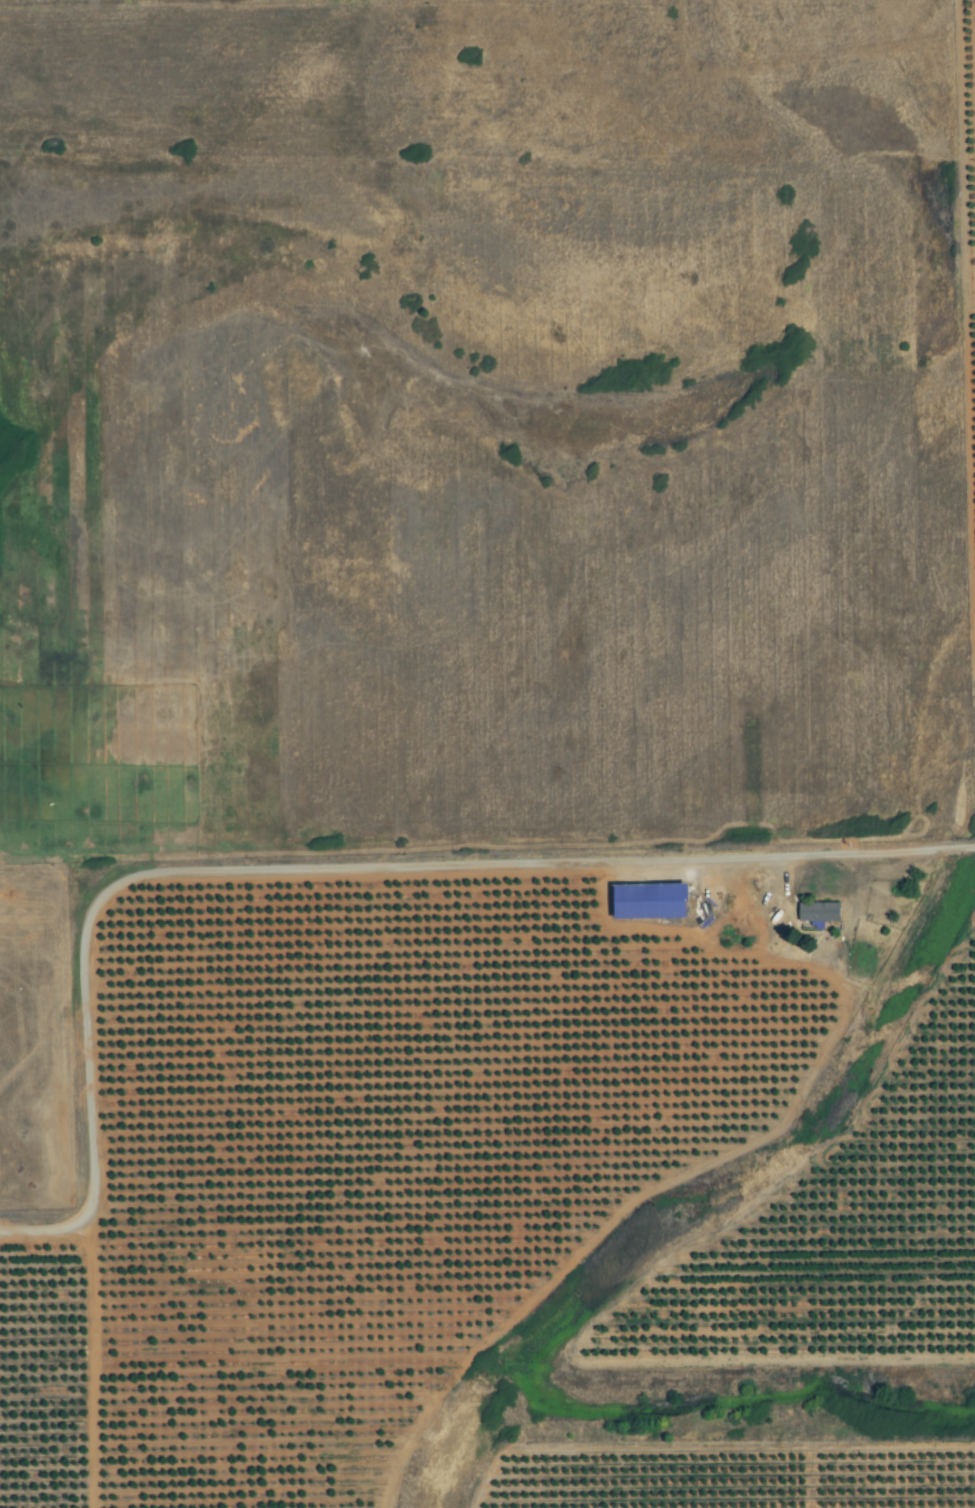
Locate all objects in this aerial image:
road: (328, 864)
building: (645, 902)
building: (817, 914)

